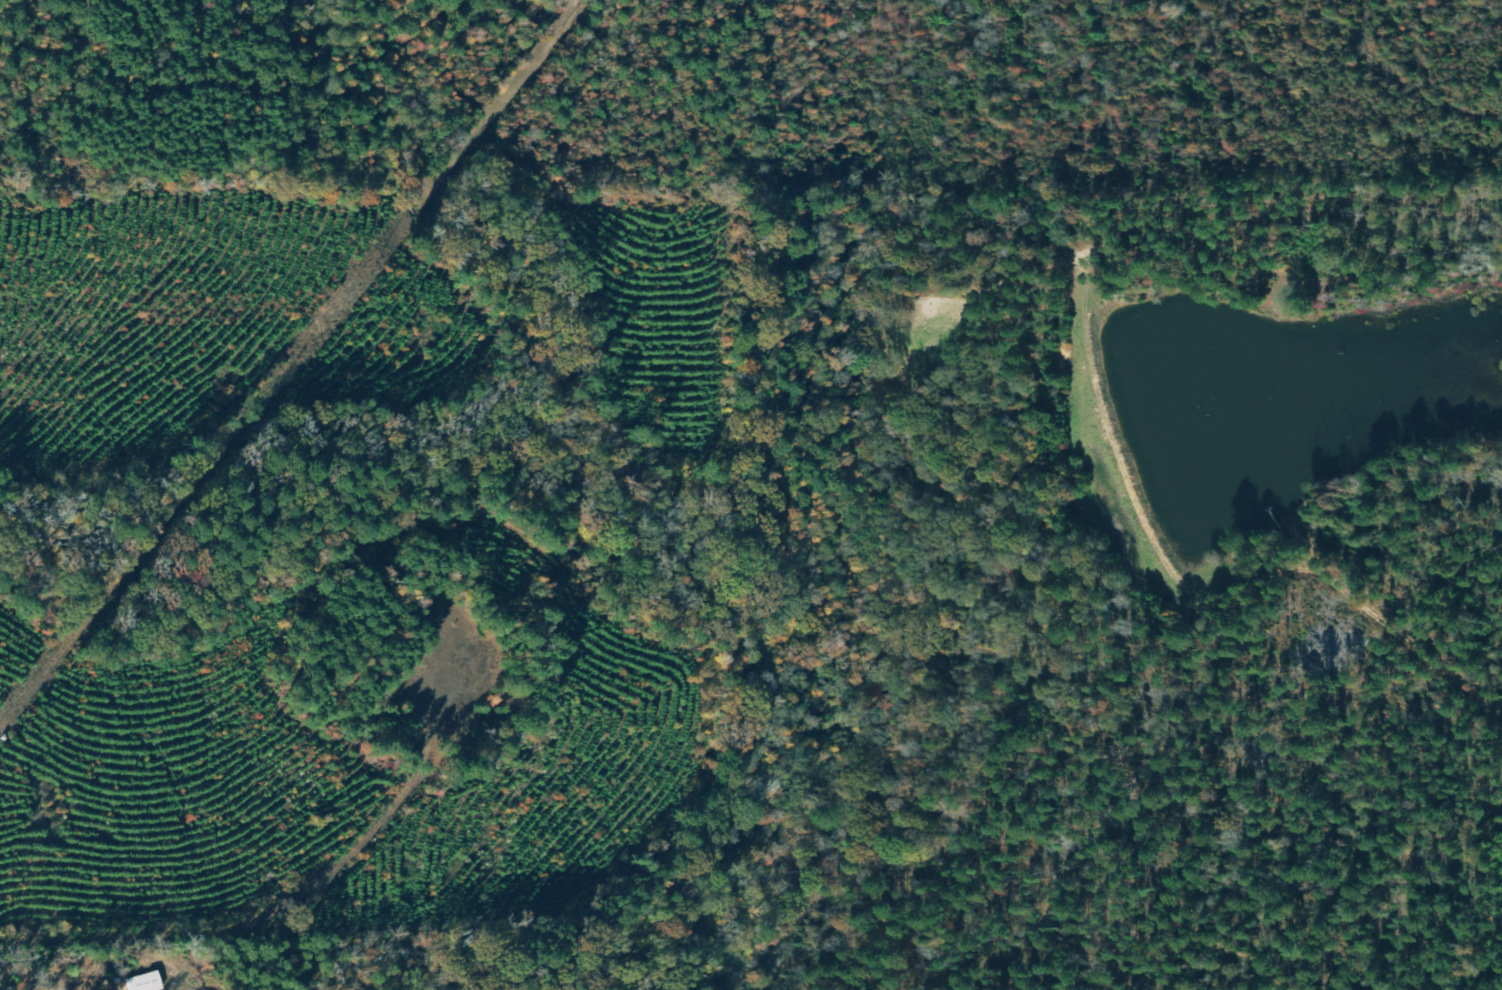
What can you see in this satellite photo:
building: (149, 981)

